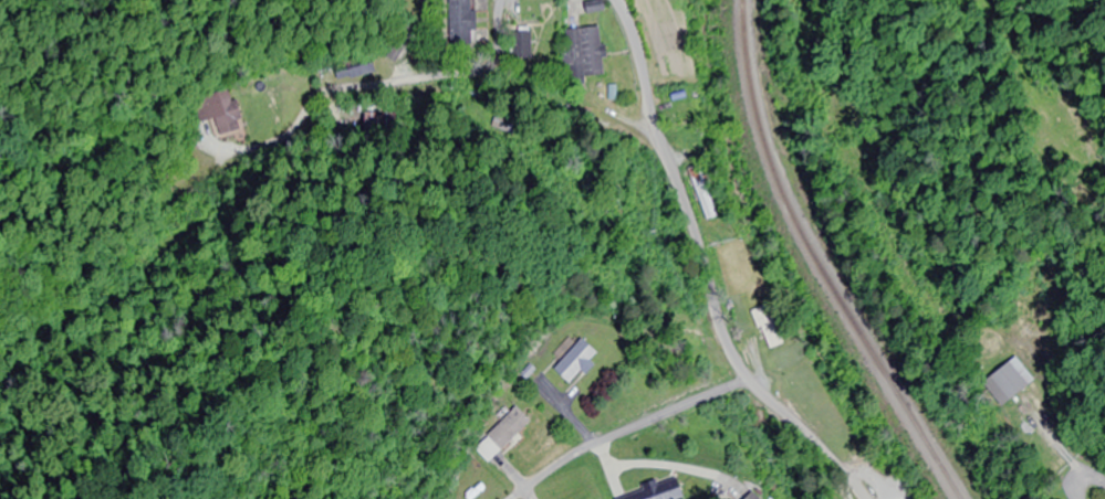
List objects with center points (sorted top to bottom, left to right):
building: (466, 21)
building: (524, 44)
building: (590, 53)
building: (230, 125)
road: (75, 162)
building: (700, 177)
railway: (821, 262)
road: (667, 274)
road: (496, 326)
building: (770, 327)
building: (583, 362)
building: (1017, 381)
building: (513, 429)
building: (659, 491)

